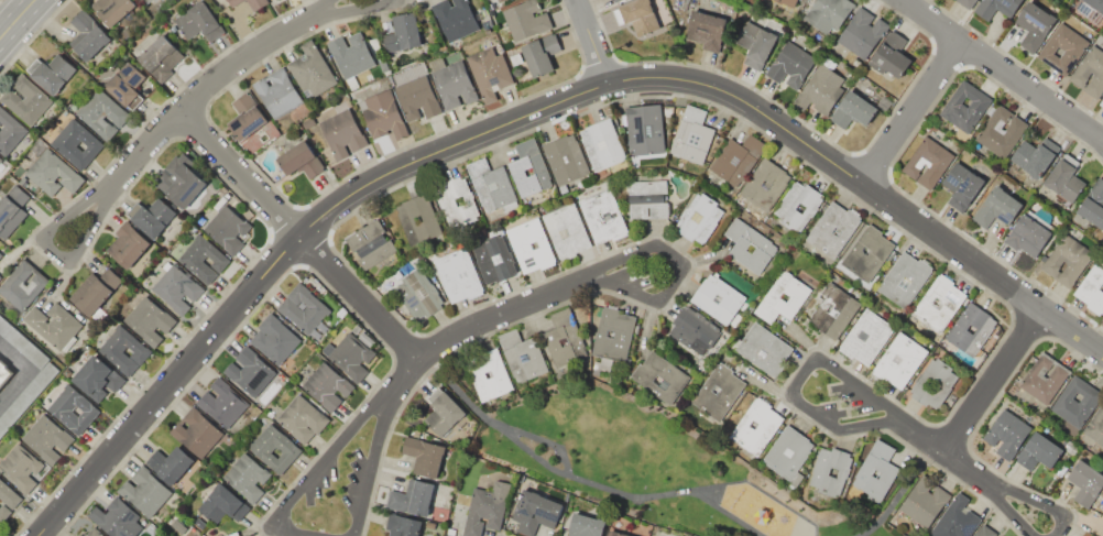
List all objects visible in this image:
building: (155, 0)
building: (500, 0)
building: (615, 0)
building: (146, 1)
building: (233, 2)
building: (789, 2)
building: (256, 3)
building: (965, 3)
building: (1095, 4)
building: (997, 7)
building: (112, 9)
road: (335, 10)
building: (828, 13)
building: (637, 14)
road: (15, 17)
building: (455, 18)
road: (4, 19)
building: (526, 20)
building: (199, 22)
building: (1034, 24)
building: (707, 31)
building: (404, 32)
building: (861, 33)
road: (32, 35)
building: (88, 35)
road: (590, 40)
building: (756, 44)
building: (1062, 48)
building: (542, 53)
building: (350, 54)
building: (891, 55)
road: (947, 55)
building: (161, 57)
road: (1015, 61)
road: (993, 64)
road: (598, 65)
building: (791, 65)
building: (310, 69)
building: (489, 70)
building: (51, 72)
building: (1090, 72)
building: (125, 85)
building: (452, 85)
road: (203, 87)
building: (820, 91)
building: (277, 92)
building: (416, 98)
building: (26, 100)
building: (1101, 101)
building: (965, 107)
building: (853, 110)
road: (531, 111)
road: (909, 111)
building: (102, 113)
building: (382, 114)
building: (247, 117)
road: (802, 122)
road: (192, 124)
road: (540, 124)
building: (645, 129)
building: (341, 130)
road: (1088, 130)
building: (9, 131)
building: (1001, 132)
building: (691, 135)
building: (76, 143)
building: (601, 143)
road: (152, 156)
road: (894, 156)
building: (1034, 156)
building: (736, 158)
building: (0, 160)
building: (301, 160)
building: (565, 160)
building: (927, 163)
road: (871, 164)
building: (518, 168)
building: (53, 173)
road: (238, 173)
building: (181, 179)
building: (1063, 181)
building: (766, 184)
building: (961, 186)
building: (491, 187)
road: (108, 193)
building: (647, 199)
building: (456, 201)
building: (997, 204)
building: (1093, 204)
road: (305, 205)
building: (797, 205)
building: (13, 209)
building: (603, 216)
building: (151, 217)
building: (698, 218)
building: (407, 219)
building: (228, 229)
building: (832, 229)
building: (566, 231)
building: (1027, 236)
building: (371, 243)
building: (127, 244)
building: (529, 245)
building: (750, 245)
building: (867, 253)
building: (0, 254)
building: (203, 258)
building: (493, 259)
building: (1067, 261)
road: (296, 264)
road: (298, 265)
road: (682, 273)
building: (458, 275)
building: (0, 277)
building: (904, 280)
building: (21, 285)
building: (1092, 286)
building: (176, 288)
building: (91, 294)
building: (419, 294)
road: (357, 296)
building: (783, 297)
building: (719, 299)
building: (939, 303)
building: (304, 310)
building: (833, 310)
road: (482, 318)
building: (149, 320)
building: (51, 325)
road: (1027, 325)
building: (971, 329)
building: (691, 331)
building: (613, 335)
building: (561, 337)
building: (866, 337)
building: (274, 339)
road: (404, 348)
building: (763, 349)
building: (110, 350)
building: (349, 355)
building: (522, 355)
building: (899, 361)
road: (26, 368)
building: (3, 371)
building: (249, 371)
building: (477, 373)
building: (659, 376)
building: (97, 378)
building: (1044, 379)
road: (991, 380)
road: (796, 381)
building: (933, 383)
building: (327, 386)
building: (719, 392)
building: (1075, 402)
building: (221, 403)
building: (74, 409)
building: (443, 412)
building: (302, 418)
road: (359, 419)
road: (976, 423)
building: (1095, 425)
building: (755, 427)
building: (196, 431)
building: (1006, 433)
road: (950, 434)
building: (46, 438)
road: (536, 438)
building: (261, 448)
road: (942, 449)
building: (1038, 451)
building: (788, 455)
building: (425, 456)
building: (170, 463)
building: (20, 468)
park: (667, 469)
building: (829, 471)
building: (876, 471)
building: (247, 477)
road: (578, 478)
building: (1085, 482)
road: (1000, 485)
road: (896, 489)
building: (145, 491)
building: (8, 494)
building: (412, 497)
building: (924, 501)
building: (222, 504)
building: (485, 508)
building: (536, 512)
building: (3, 513)
building: (117, 518)
building: (957, 518)
building: (403, 525)
building: (587, 525)
building: (985, 530)
building: (94, 533)
building: (614, 534)
building: (658, 534)

